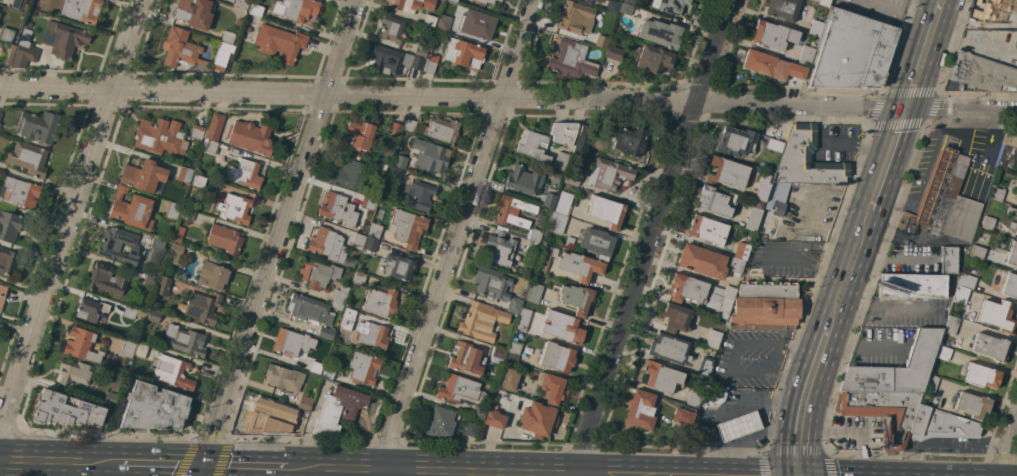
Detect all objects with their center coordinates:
building: (499, 0)
building: (598, 0)
building: (453, 1)
building: (483, 1)
building: (587, 2)
building: (631, 2)
building: (824, 2)
building: (241, 3)
building: (18, 4)
building: (412, 5)
building: (668, 5)
building: (613, 6)
building: (296, 9)
building: (625, 9)
building: (782, 9)
building: (82, 10)
building: (256, 10)
road: (897, 11)
building: (191, 12)
building: (992, 13)
building: (572, 17)
building: (429, 20)
building: (238, 22)
building: (248, 23)
building: (444, 24)
building: (476, 24)
building: (815, 27)
building: (391, 28)
building: (247, 29)
building: (660, 33)
building: (7, 34)
building: (773, 35)
building: (228, 37)
building: (596, 37)
building: (63, 39)
building: (1015, 40)
building: (279, 42)
building: (421, 49)
building: (24, 50)
building: (852, 51)
building: (191, 52)
building: (614, 53)
road: (924, 53)
building: (9, 54)
building: (463, 54)
building: (806, 55)
building: (571, 59)
building: (654, 59)
building: (393, 60)
building: (759, 62)
building: (431, 63)
building: (796, 71)
building: (983, 72)
road: (508, 95)
traffic signals: (907, 108)
building: (0, 111)
building: (39, 126)
building: (214, 126)
building: (434, 128)
building: (394, 129)
building: (196, 132)
building: (563, 132)
building: (359, 135)
building: (160, 136)
building: (250, 137)
building: (583, 139)
building: (628, 140)
building: (1011, 140)
building: (736, 142)
parking lot: (836, 144)
building: (209, 145)
building: (773, 145)
building: (533, 146)
building: (430, 156)
road: (832, 157)
building: (27, 158)
building: (1007, 158)
building: (560, 160)
building: (400, 161)
building: (806, 161)
road: (889, 162)
building: (381, 169)
building: (727, 172)
building: (244, 173)
building: (394, 173)
building: (185, 174)
building: (609, 174)
building: (143, 175)
building: (353, 175)
building: (554, 177)
building: (572, 178)
building: (524, 180)
building: (199, 181)
building: (1016, 183)
building: (763, 189)
building: (19, 193)
building: (997, 194)
building: (419, 195)
building: (1016, 197)
building: (548, 200)
building: (944, 200)
building: (716, 201)
building: (563, 203)
building: (368, 204)
building: (778, 204)
building: (235, 208)
building: (132, 209)
building: (338, 209)
road: (71, 210)
building: (172, 210)
building: (513, 211)
building: (606, 211)
building: (1012, 211)
building: (187, 214)
building: (753, 219)
building: (987, 222)
building: (556, 223)
building: (9, 226)
building: (407, 228)
building: (374, 230)
building: (707, 230)
building: (1016, 233)
building: (178, 234)
building: (535, 235)
road: (277, 237)
road: (452, 238)
road: (649, 238)
building: (224, 239)
building: (358, 239)
building: (569, 241)
building: (597, 242)
building: (327, 244)
building: (370, 244)
building: (118, 245)
road: (829, 246)
building: (532, 248)
building: (156, 249)
building: (498, 249)
building: (742, 250)
building: (977, 252)
road: (767, 253)
building: (175, 254)
building: (1012, 255)
building: (545, 257)
building: (948, 259)
building: (7, 261)
building: (349, 261)
building: (701, 261)
building: (400, 265)
building: (735, 265)
building: (580, 266)
road: (824, 269)
building: (317, 273)
road: (850, 273)
building: (212, 276)
building: (359, 278)
building: (105, 279)
building: (151, 280)
building: (966, 280)
building: (492, 283)
building: (163, 285)
building: (1010, 285)
building: (911, 287)
building: (533, 292)
building: (702, 293)
building: (341, 294)
building: (2, 295)
building: (961, 295)
building: (143, 298)
building: (577, 298)
building: (381, 301)
building: (514, 305)
building: (202, 307)
building: (765, 307)
road: (885, 308)
building: (309, 309)
building: (90, 310)
building: (134, 312)
building: (349, 314)
building: (996, 315)
building: (153, 316)
building: (675, 318)
building: (523, 320)
building: (482, 321)
building: (951, 325)
building: (562, 327)
building: (325, 332)
building: (373, 335)
building: (713, 339)
building: (184, 340)
building: (81, 345)
road: (864, 345)
road: (801, 346)
building: (991, 347)
building: (127, 348)
building: (298, 348)
building: (668, 348)
building: (141, 350)
building: (513, 350)
building: (527, 350)
building: (943, 352)
building: (497, 355)
building: (556, 357)
building: (467, 359)
road: (732, 359)
parking lot: (751, 360)
building: (704, 367)
building: (362, 368)
building: (897, 369)
building: (73, 372)
building: (173, 372)
building: (328, 373)
building: (981, 375)
building: (284, 377)
building: (662, 377)
building: (507, 379)
road: (794, 379)
building: (931, 383)
building: (551, 387)
building: (461, 390)
road: (4, 394)
building: (695, 396)
building: (714, 397)
building: (110, 398)
road: (806, 401)
building: (305, 402)
building: (972, 404)
building: (153, 408)
building: (65, 409)
building: (338, 409)
building: (640, 409)
road: (728, 410)
building: (478, 412)
building: (883, 412)
building: (269, 417)
building: (682, 417)
road: (762, 418)
building: (495, 419)
building: (537, 419)
building: (440, 422)
building: (940, 425)
building: (738, 426)
building: (471, 429)
road: (754, 435)
road: (1008, 451)
road: (58, 460)
road: (161, 464)
traffic signals: (205, 466)
road: (246, 467)
road: (412, 472)

